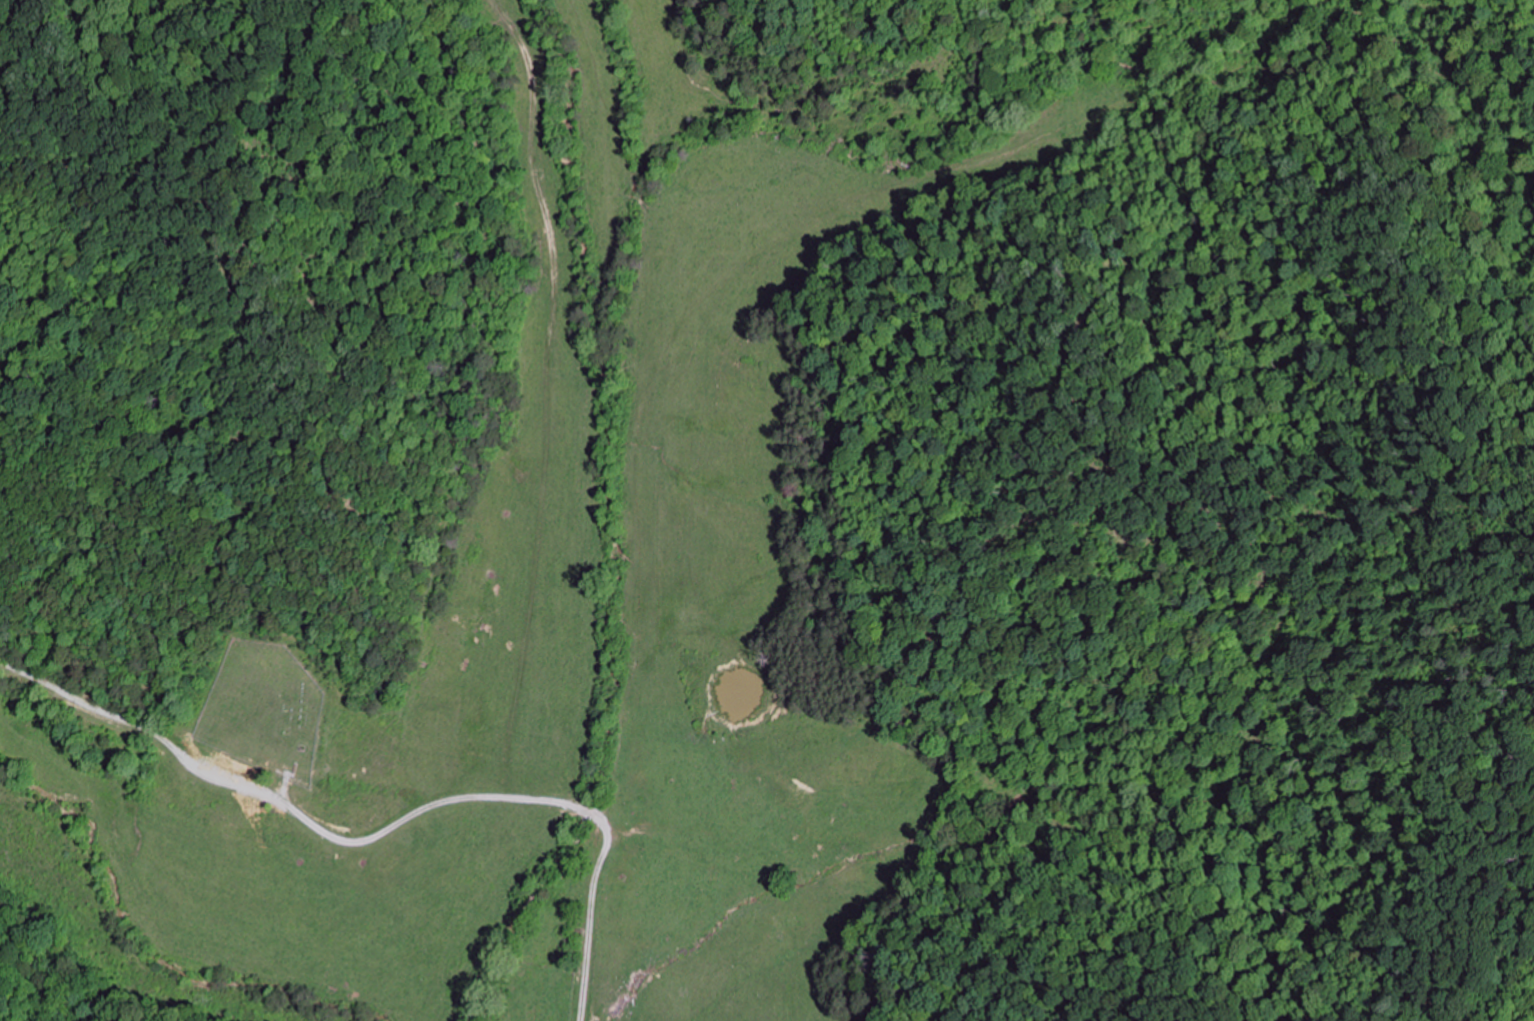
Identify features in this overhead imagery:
road: (506, 449)
park: (263, 710)
park: (571, 949)
road: (610, 950)

